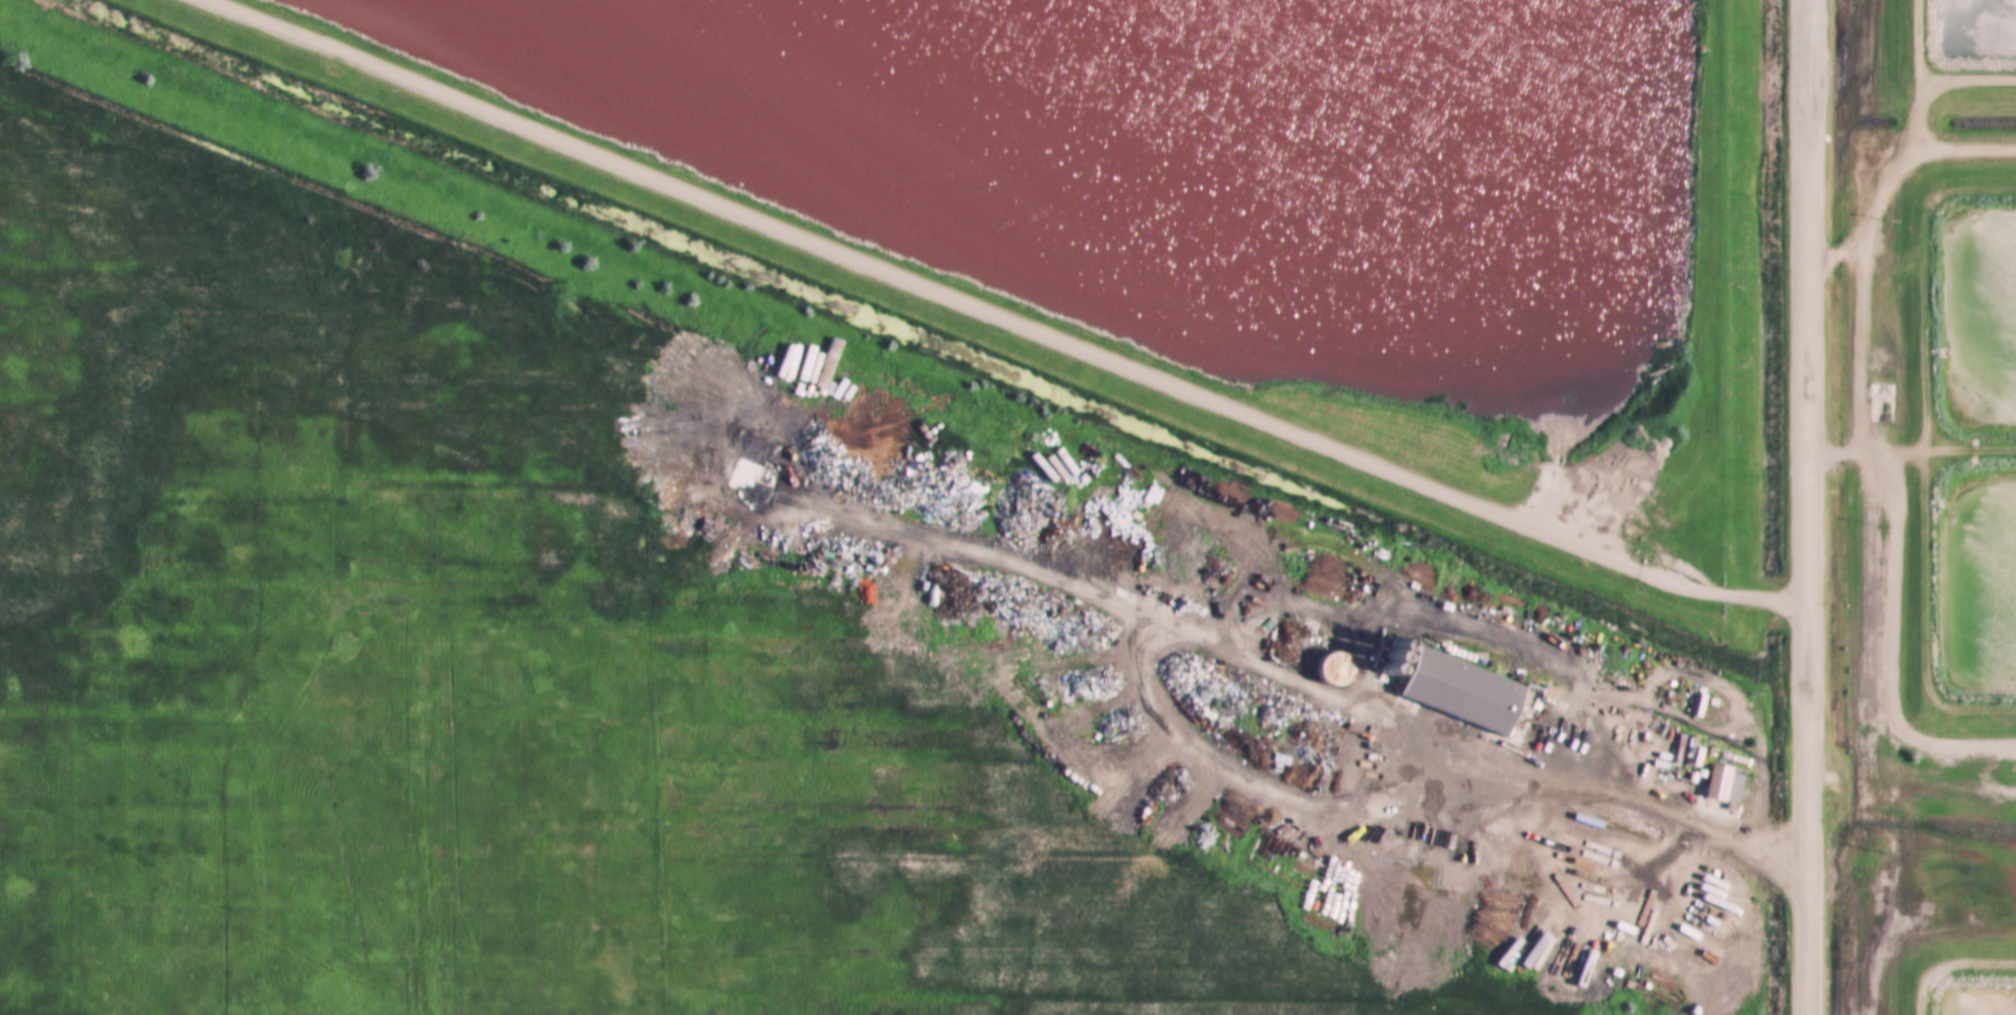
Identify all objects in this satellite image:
road: (1002, 316)
building: (1880, 402)
road: (1806, 507)
building: (1417, 567)
building: (1458, 687)
building: (1729, 783)
road: (1622, 798)

